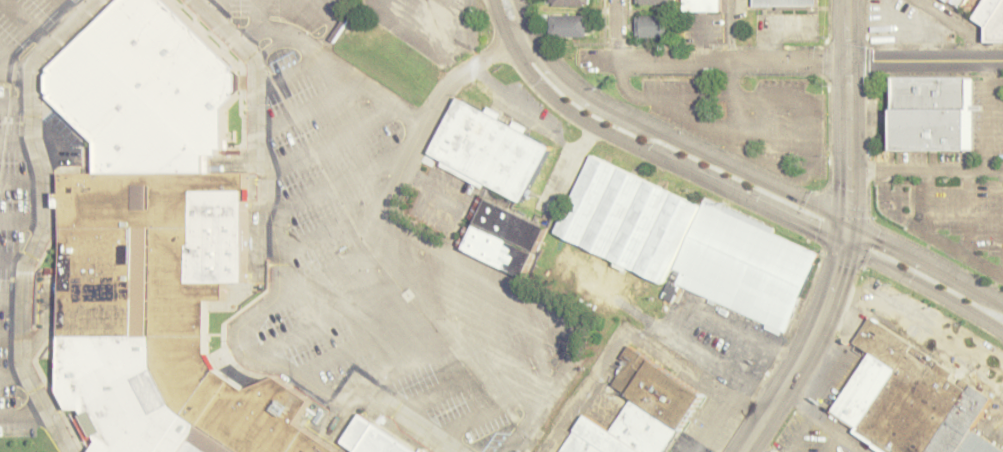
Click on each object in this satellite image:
building: (949, 0)
building: (655, 1)
building: (570, 2)
building: (784, 4)
building: (702, 5)
road: (68, 7)
road: (218, 12)
building: (992, 19)
road: (257, 20)
parking lot: (280, 21)
road: (24, 22)
building: (569, 24)
road: (334, 26)
building: (653, 26)
parking lot: (30, 30)
road: (616, 31)
road: (857, 31)
road: (8, 59)
road: (791, 60)
road: (333, 66)
road: (15, 74)
road: (253, 92)
road: (16, 103)
road: (304, 106)
building: (930, 112)
road: (327, 139)
road: (16, 140)
road: (848, 140)
building: (492, 149)
road: (925, 171)
road: (741, 172)
road: (21, 179)
road: (337, 180)
road: (723, 192)
parking lot: (442, 198)
building: (628, 218)
road: (22, 219)
traffic signals: (845, 220)
road: (43, 221)
road: (332, 223)
building: (213, 232)
building: (507, 237)
building: (152, 245)
traffic signals: (841, 248)
parking lot: (11, 254)
road: (437, 254)
road: (13, 260)
parking lot: (376, 264)
building: (742, 266)
road: (337, 267)
road: (11, 299)
road: (344, 306)
road: (392, 330)
road: (235, 336)
road: (10, 338)
road: (809, 342)
road: (445, 347)
road: (483, 370)
road: (14, 375)
building: (909, 400)
road: (496, 407)
building: (639, 410)
road: (25, 418)
road: (408, 421)
road: (825, 422)
road: (796, 432)
building: (374, 438)
road: (832, 441)
road: (864, 450)
building: (425, 451)

